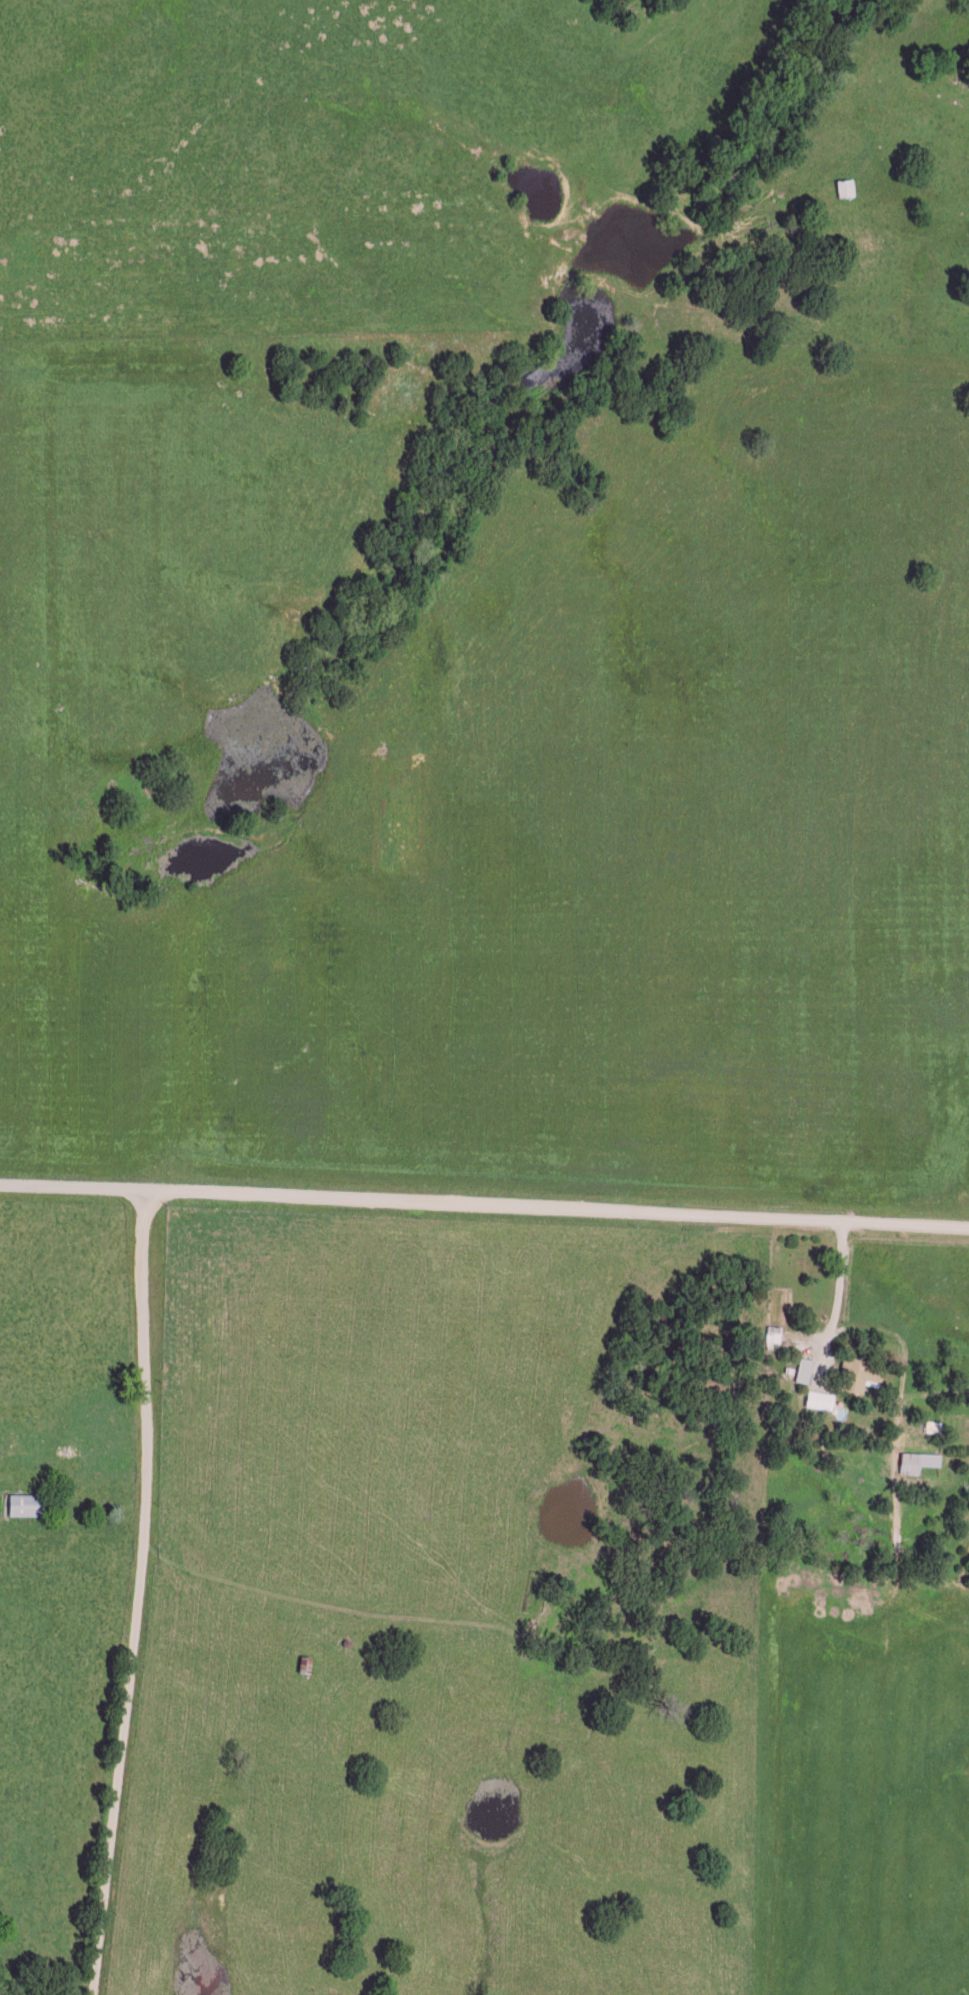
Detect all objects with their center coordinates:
building: (846, 185)
road: (484, 1206)
road: (838, 1320)
building: (805, 1367)
building: (858, 1372)
building: (820, 1397)
building: (917, 1459)
road: (90, 1476)
building: (29, 1502)
road: (142, 1586)

